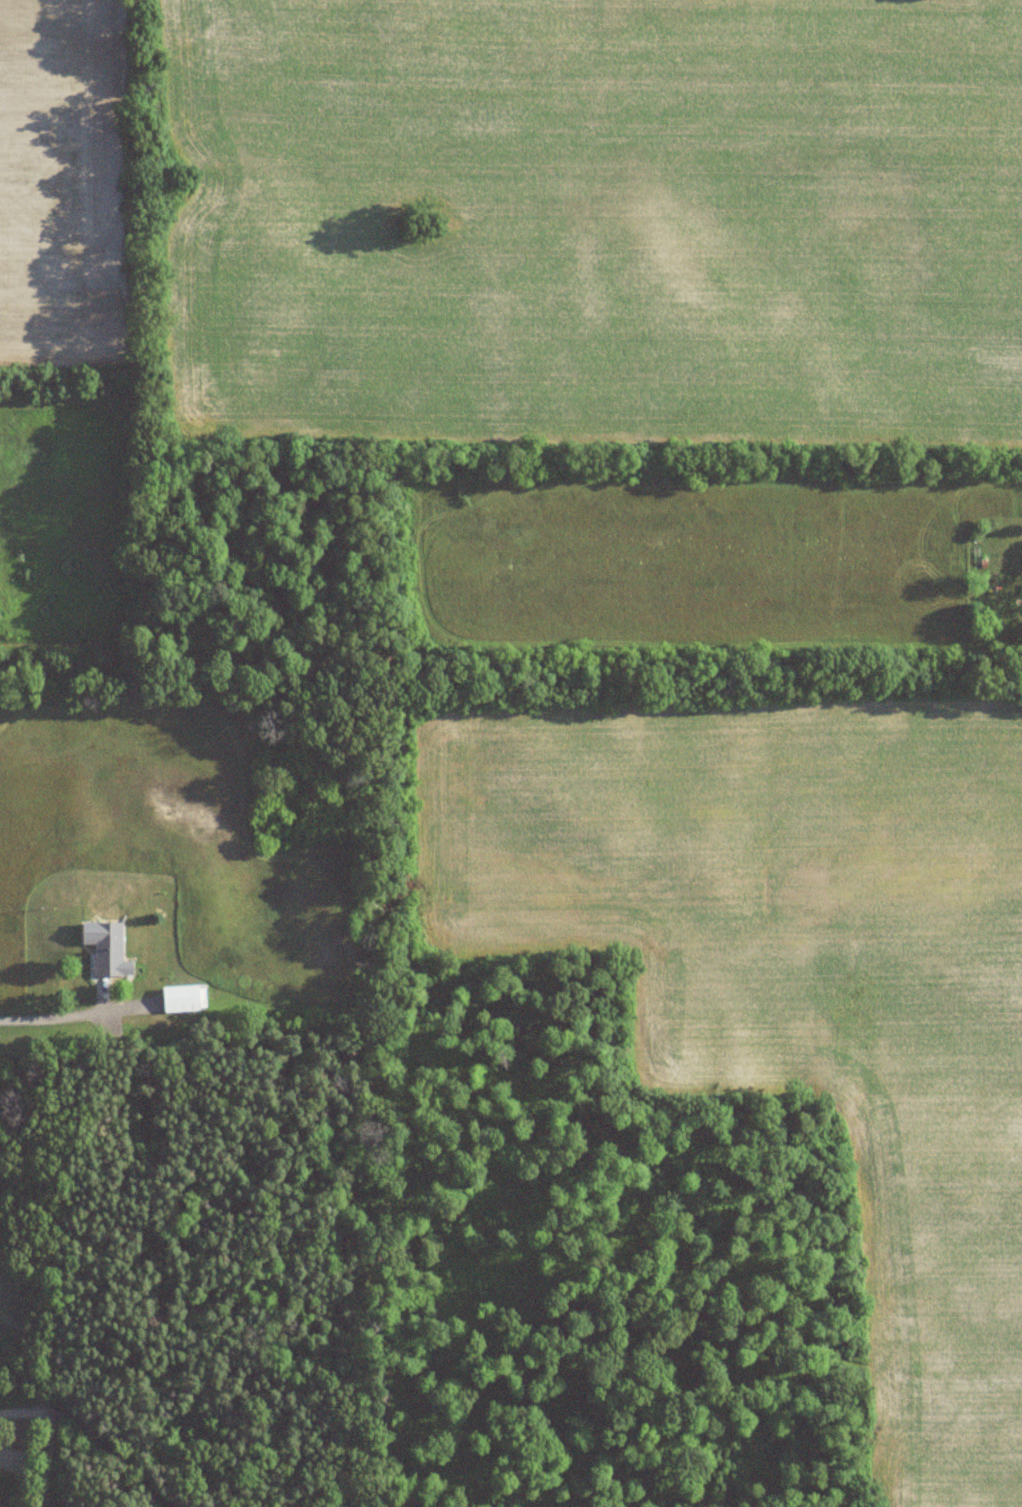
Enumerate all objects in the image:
building: (108, 948)
building: (184, 998)
road: (37, 1019)
road: (47, 1435)
road: (113, 1452)

